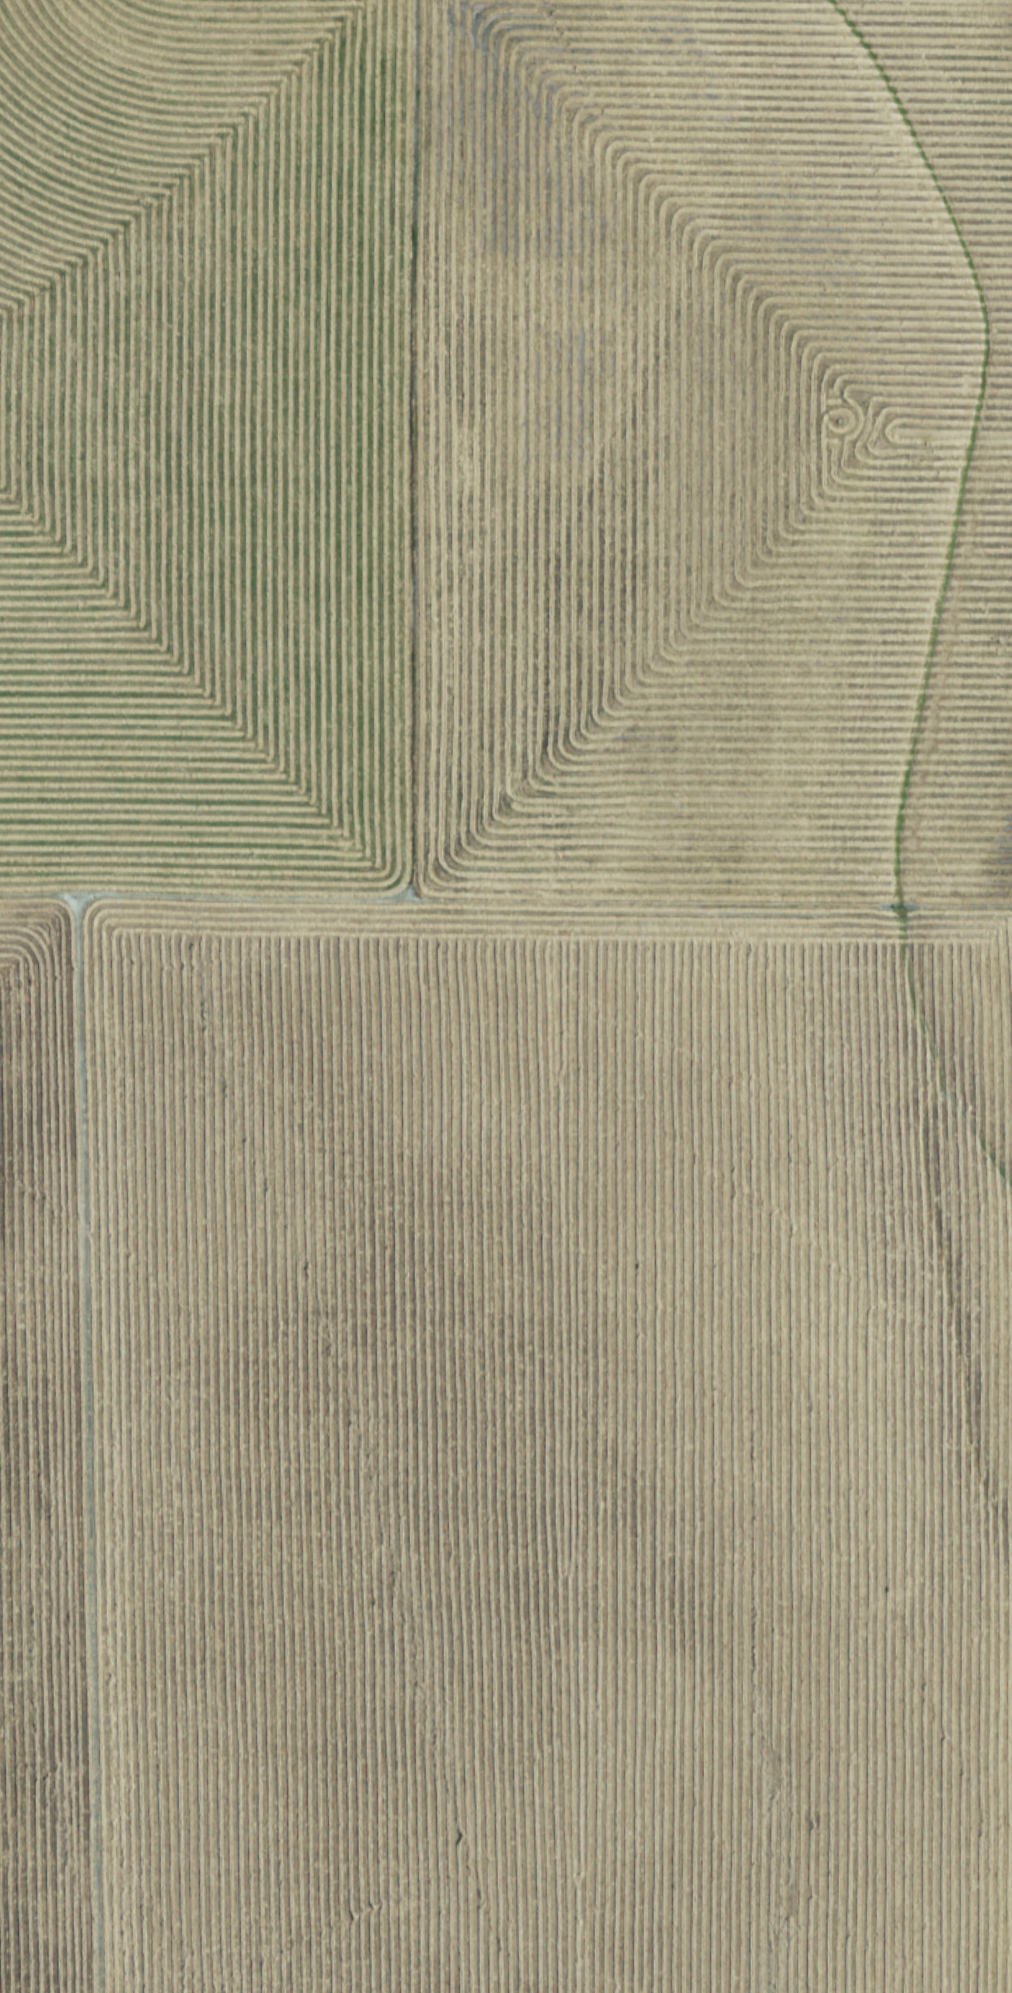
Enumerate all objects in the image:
crop: (506, 996)

